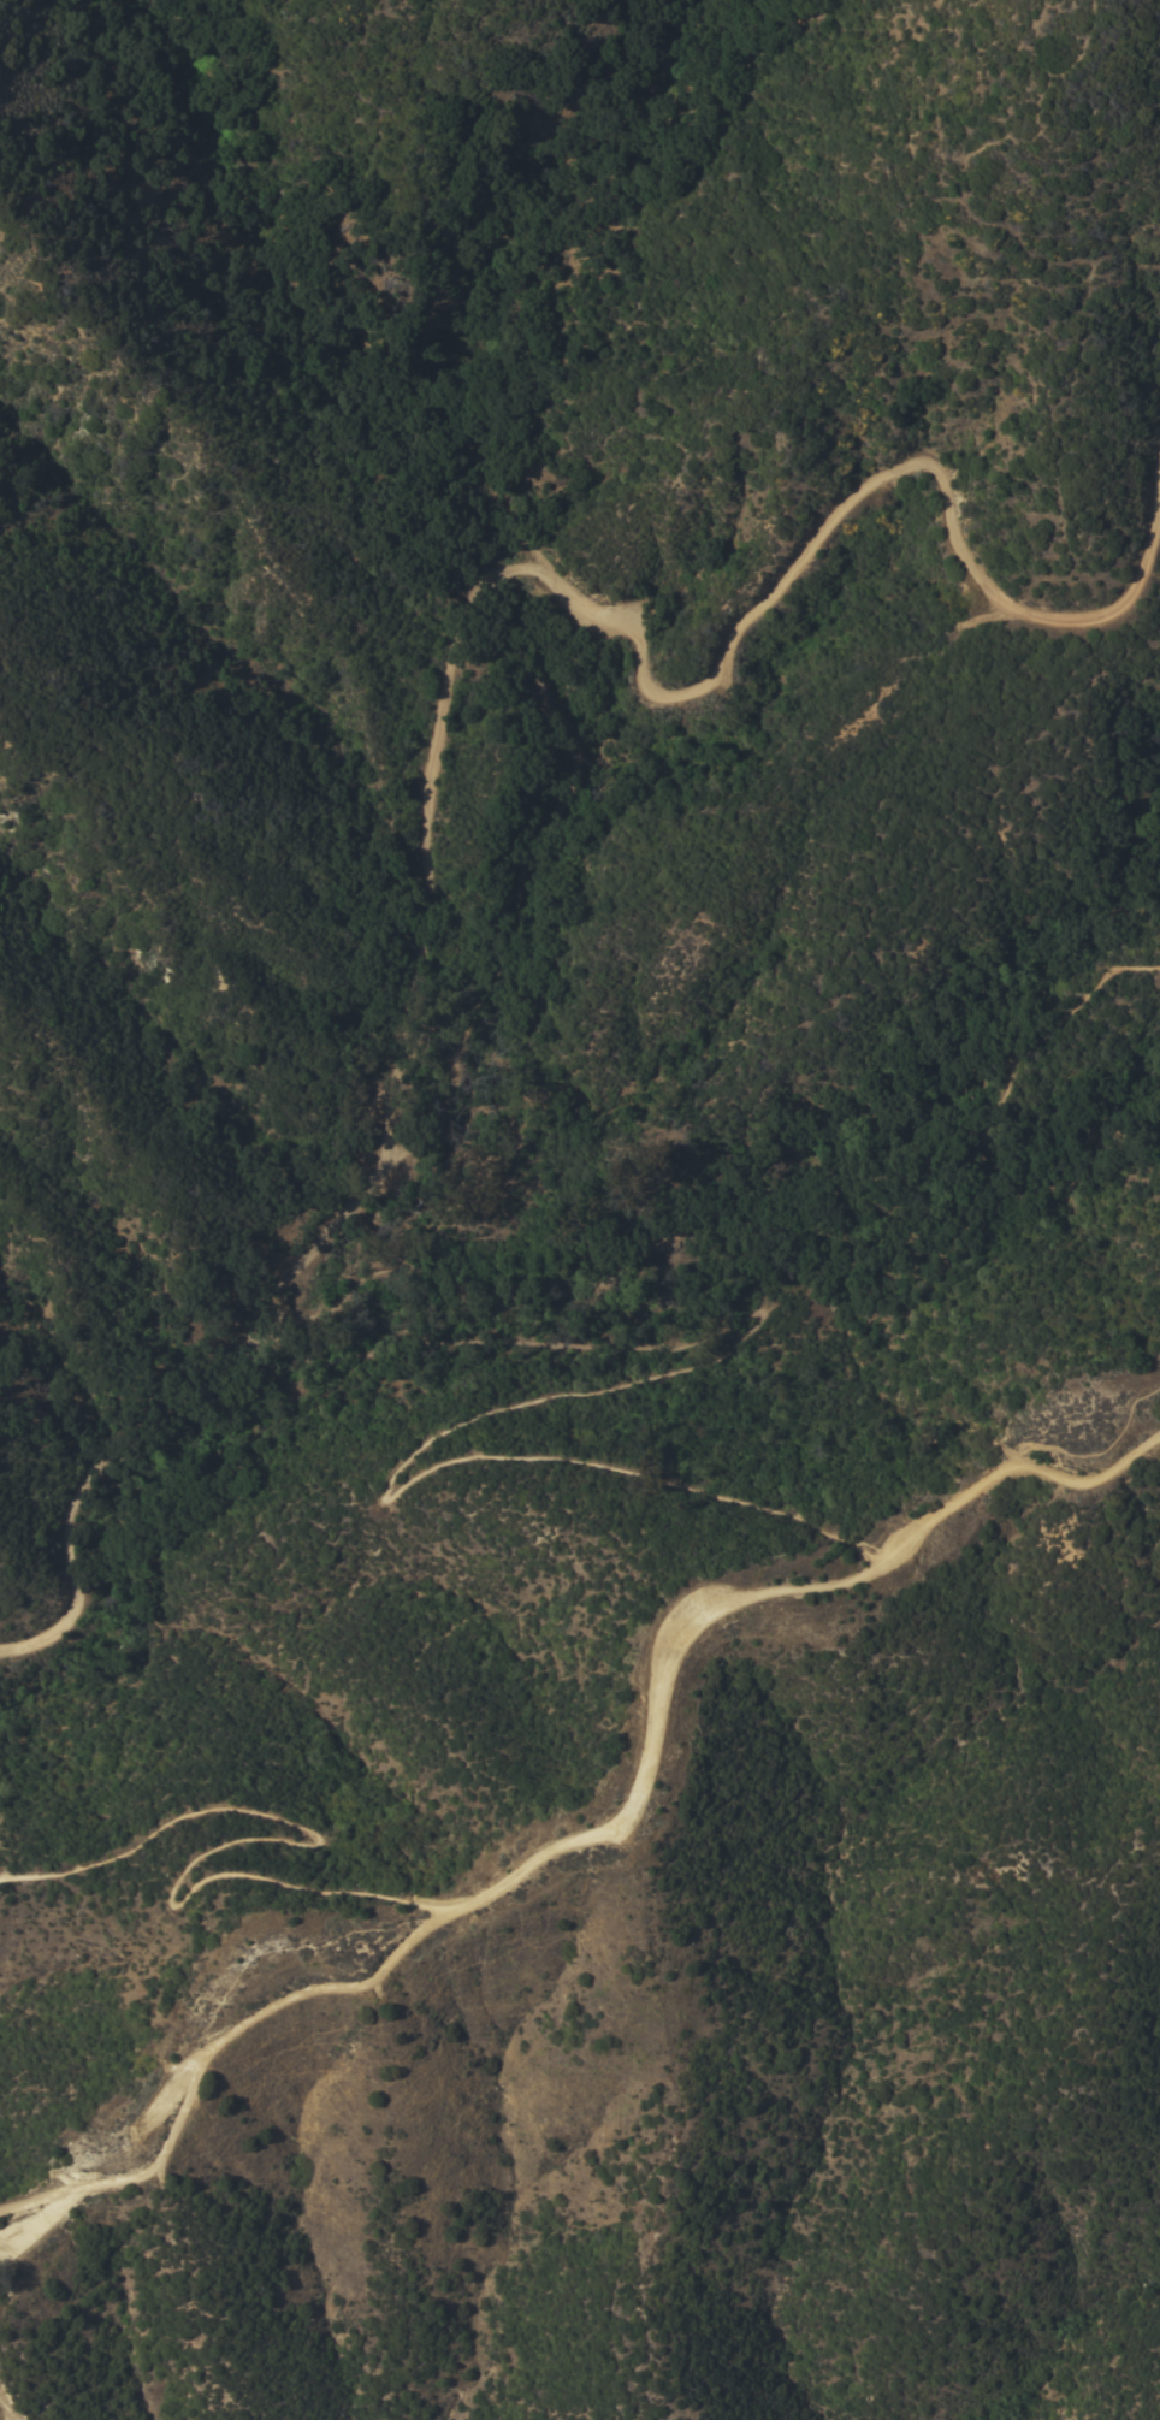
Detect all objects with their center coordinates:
road: (443, 685)
road: (519, 881)
park: (578, 988)
road: (763, 1217)
road: (561, 1394)
road: (1017, 1469)
road: (655, 1716)
road: (254, 1838)
road: (209, 2054)
road: (1, 2415)

